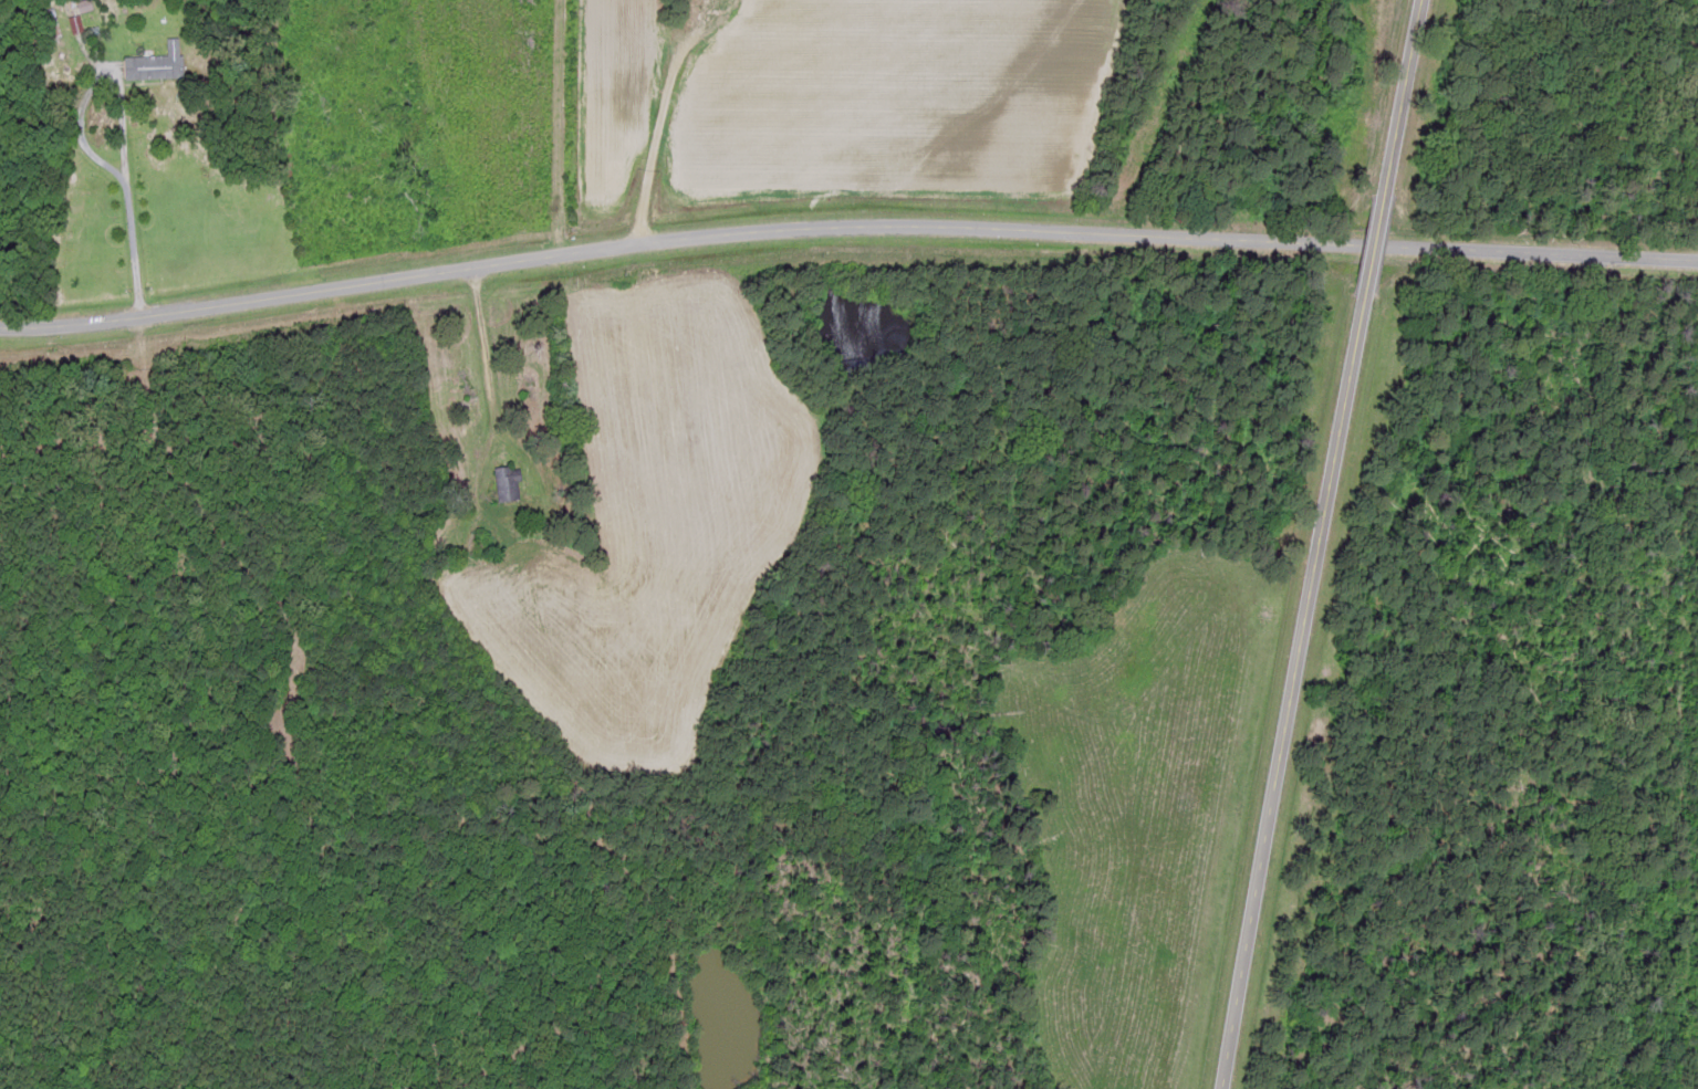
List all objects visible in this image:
building: (72, 25)
building: (48, 27)
building: (152, 64)
road: (1388, 108)
road: (649, 112)
road: (1605, 119)
road: (847, 240)
road: (1358, 256)
building: (503, 484)
road: (1290, 693)

